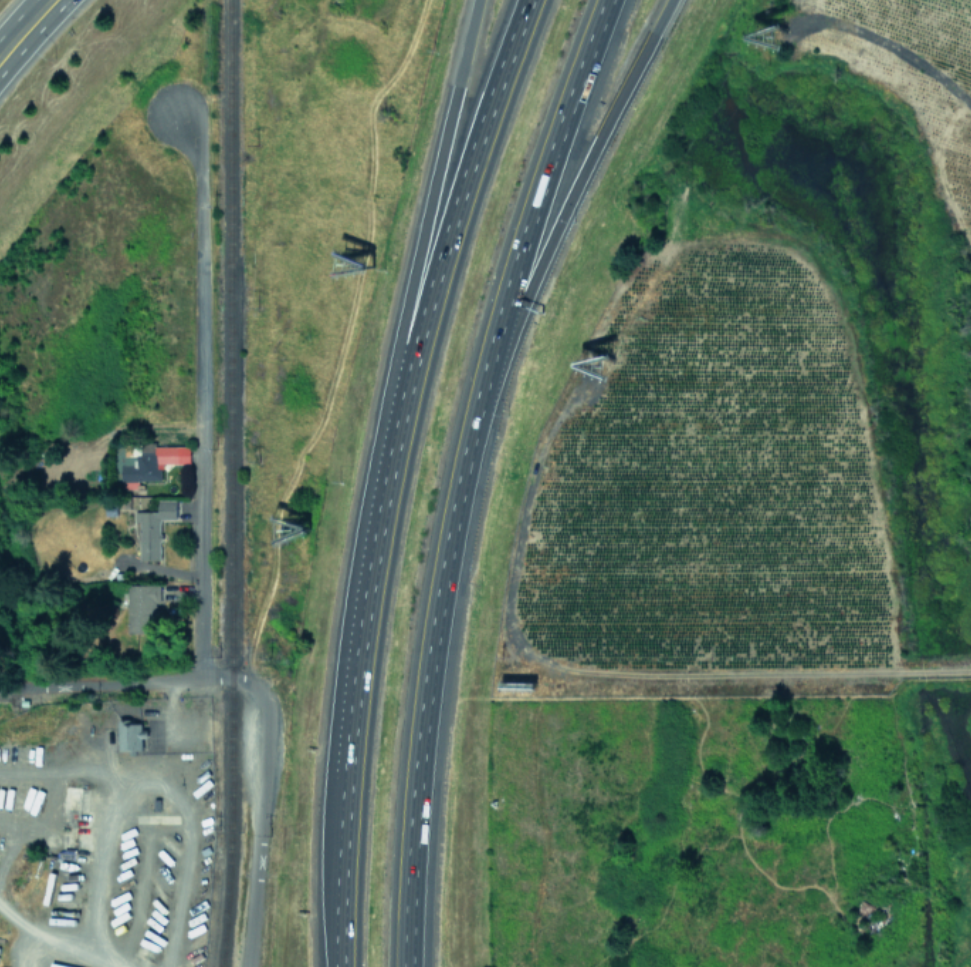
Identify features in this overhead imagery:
road: (15, 17)
road: (30, 36)
crop: (908, 69)
road: (562, 213)
road: (445, 229)
road: (419, 230)
railway: (228, 384)
road: (199, 389)
building: (148, 464)
road: (459, 474)
crop: (708, 495)
building: (153, 528)
building: (141, 606)
road: (356, 629)
road: (101, 680)
building: (131, 734)
road: (151, 782)
road: (260, 797)
railway: (228, 868)
road: (337, 880)
road: (52, 942)

